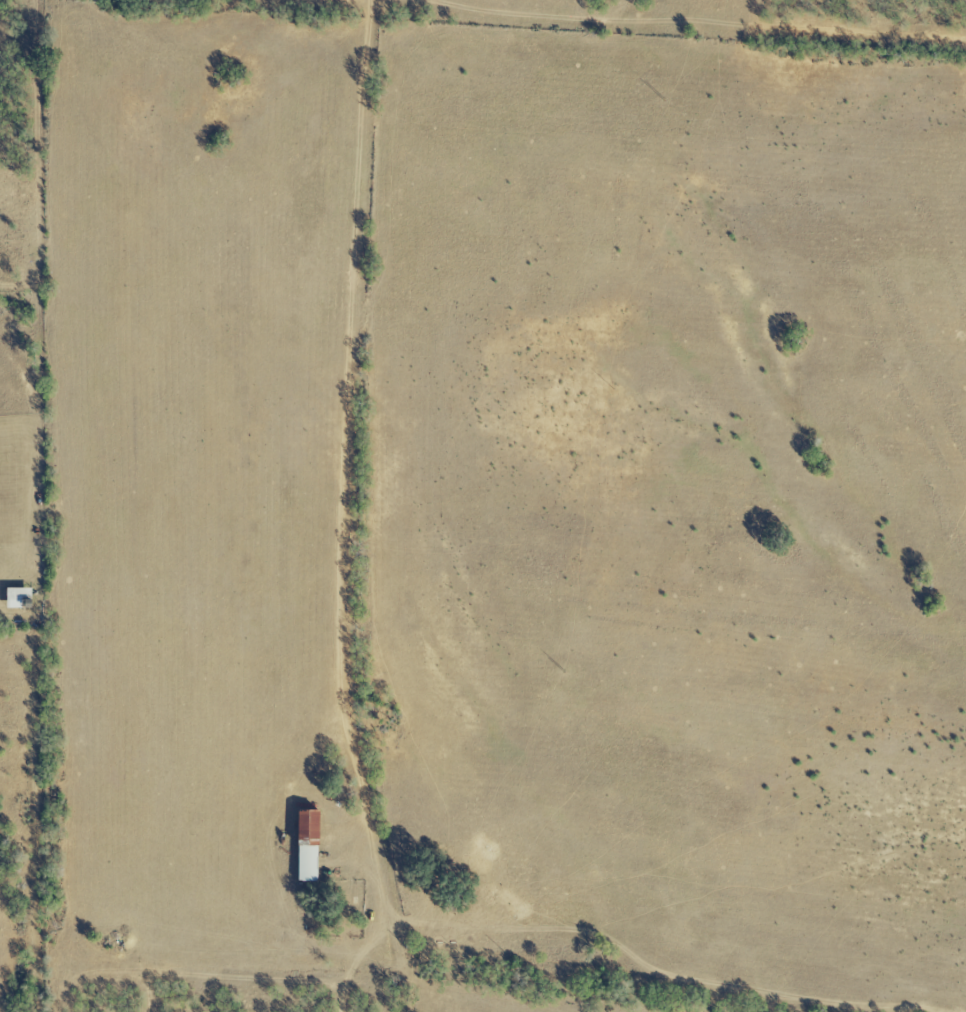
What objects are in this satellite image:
road: (342, 509)
building: (17, 598)

